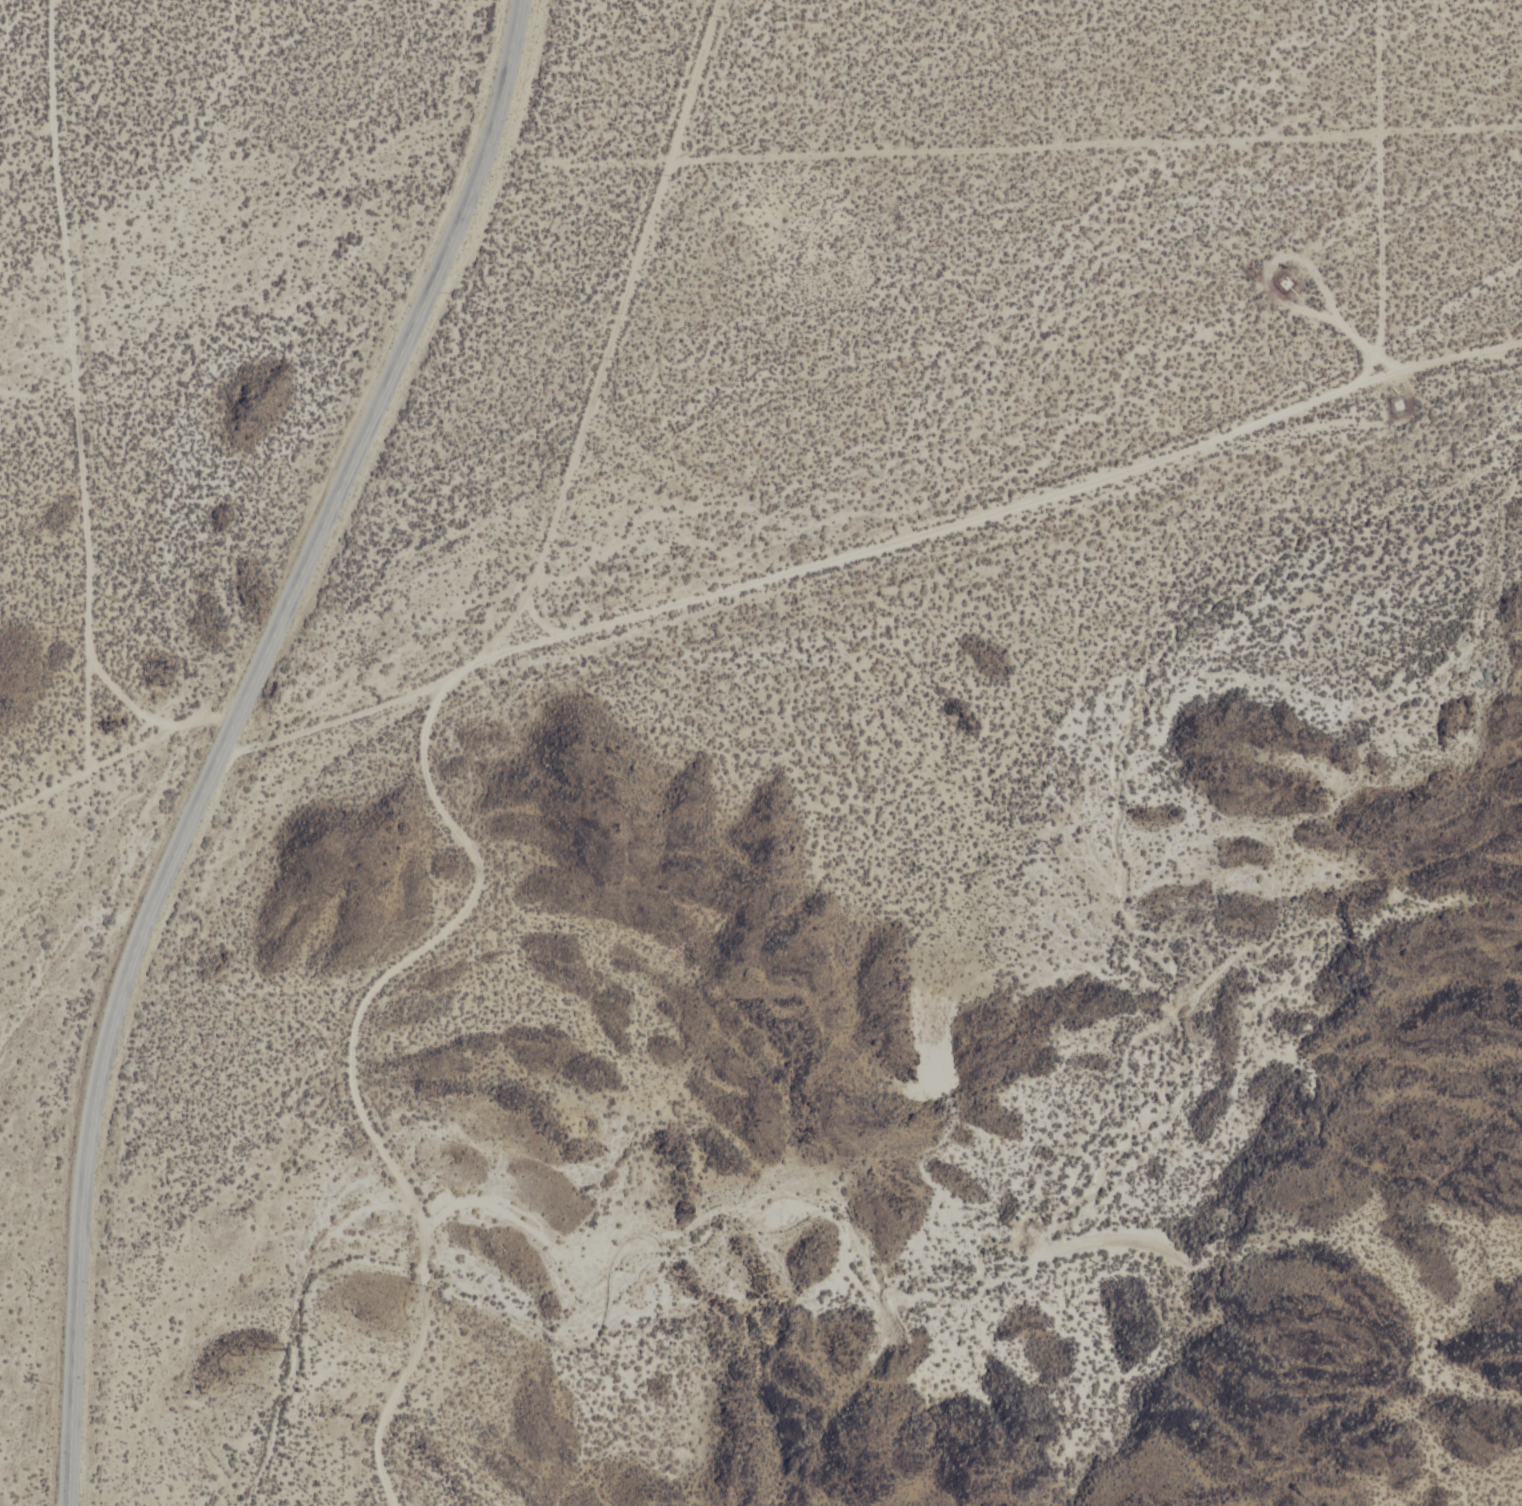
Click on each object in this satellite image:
road: (1098, 141)
road: (1386, 188)
road: (622, 325)
road: (1417, 366)
road: (85, 385)
road: (800, 571)
road: (132, 700)
road: (228, 736)
road: (120, 761)
road: (353, 1073)

